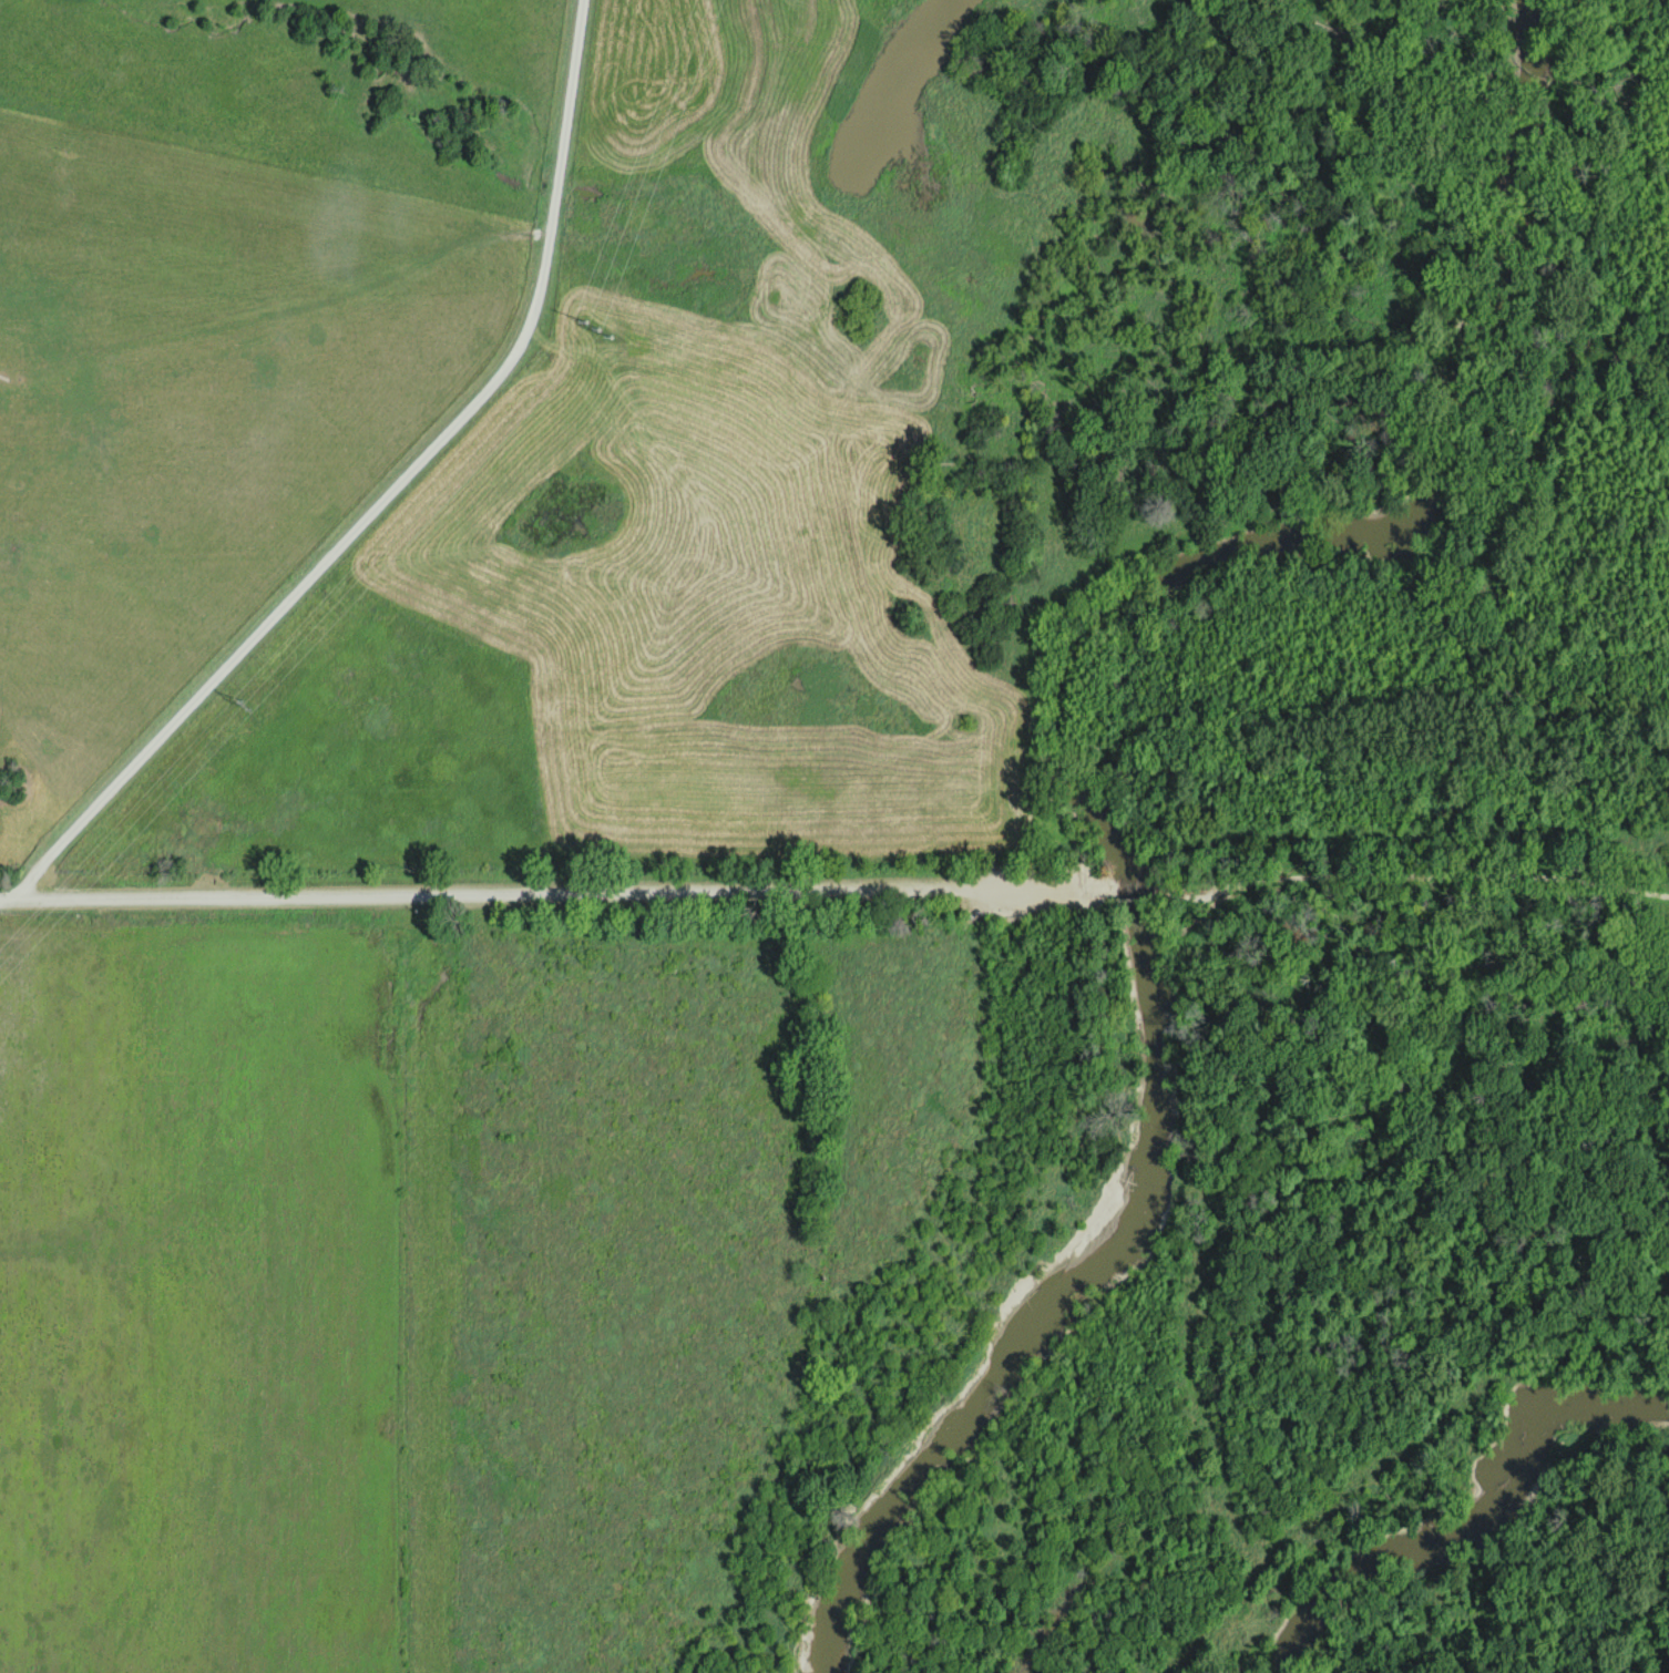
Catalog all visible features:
road: (398, 495)
road: (1373, 876)
road: (537, 892)

